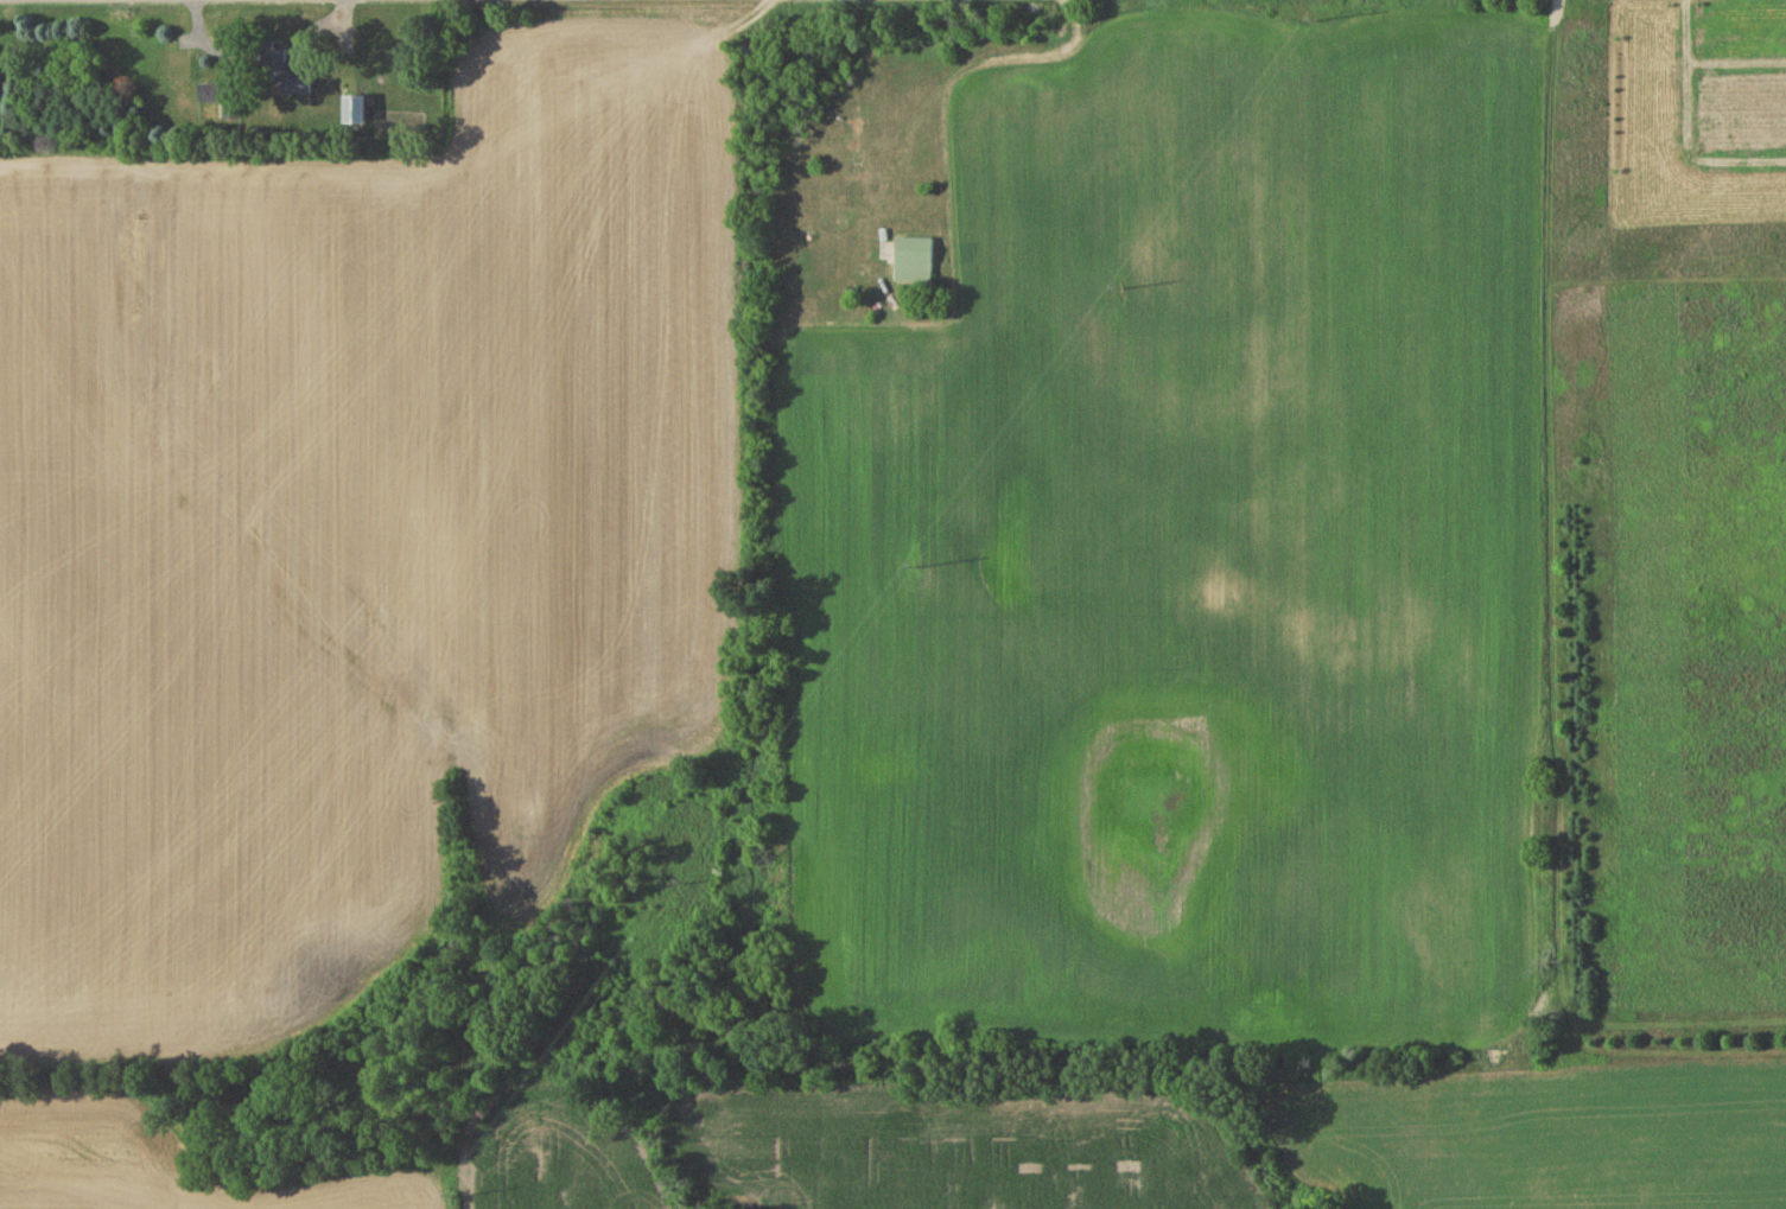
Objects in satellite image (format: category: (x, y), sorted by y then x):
road: (1736, 58)
building: (300, 76)
building: (223, 101)
building: (355, 113)
road: (1686, 125)
building: (859, 151)
building: (915, 263)

